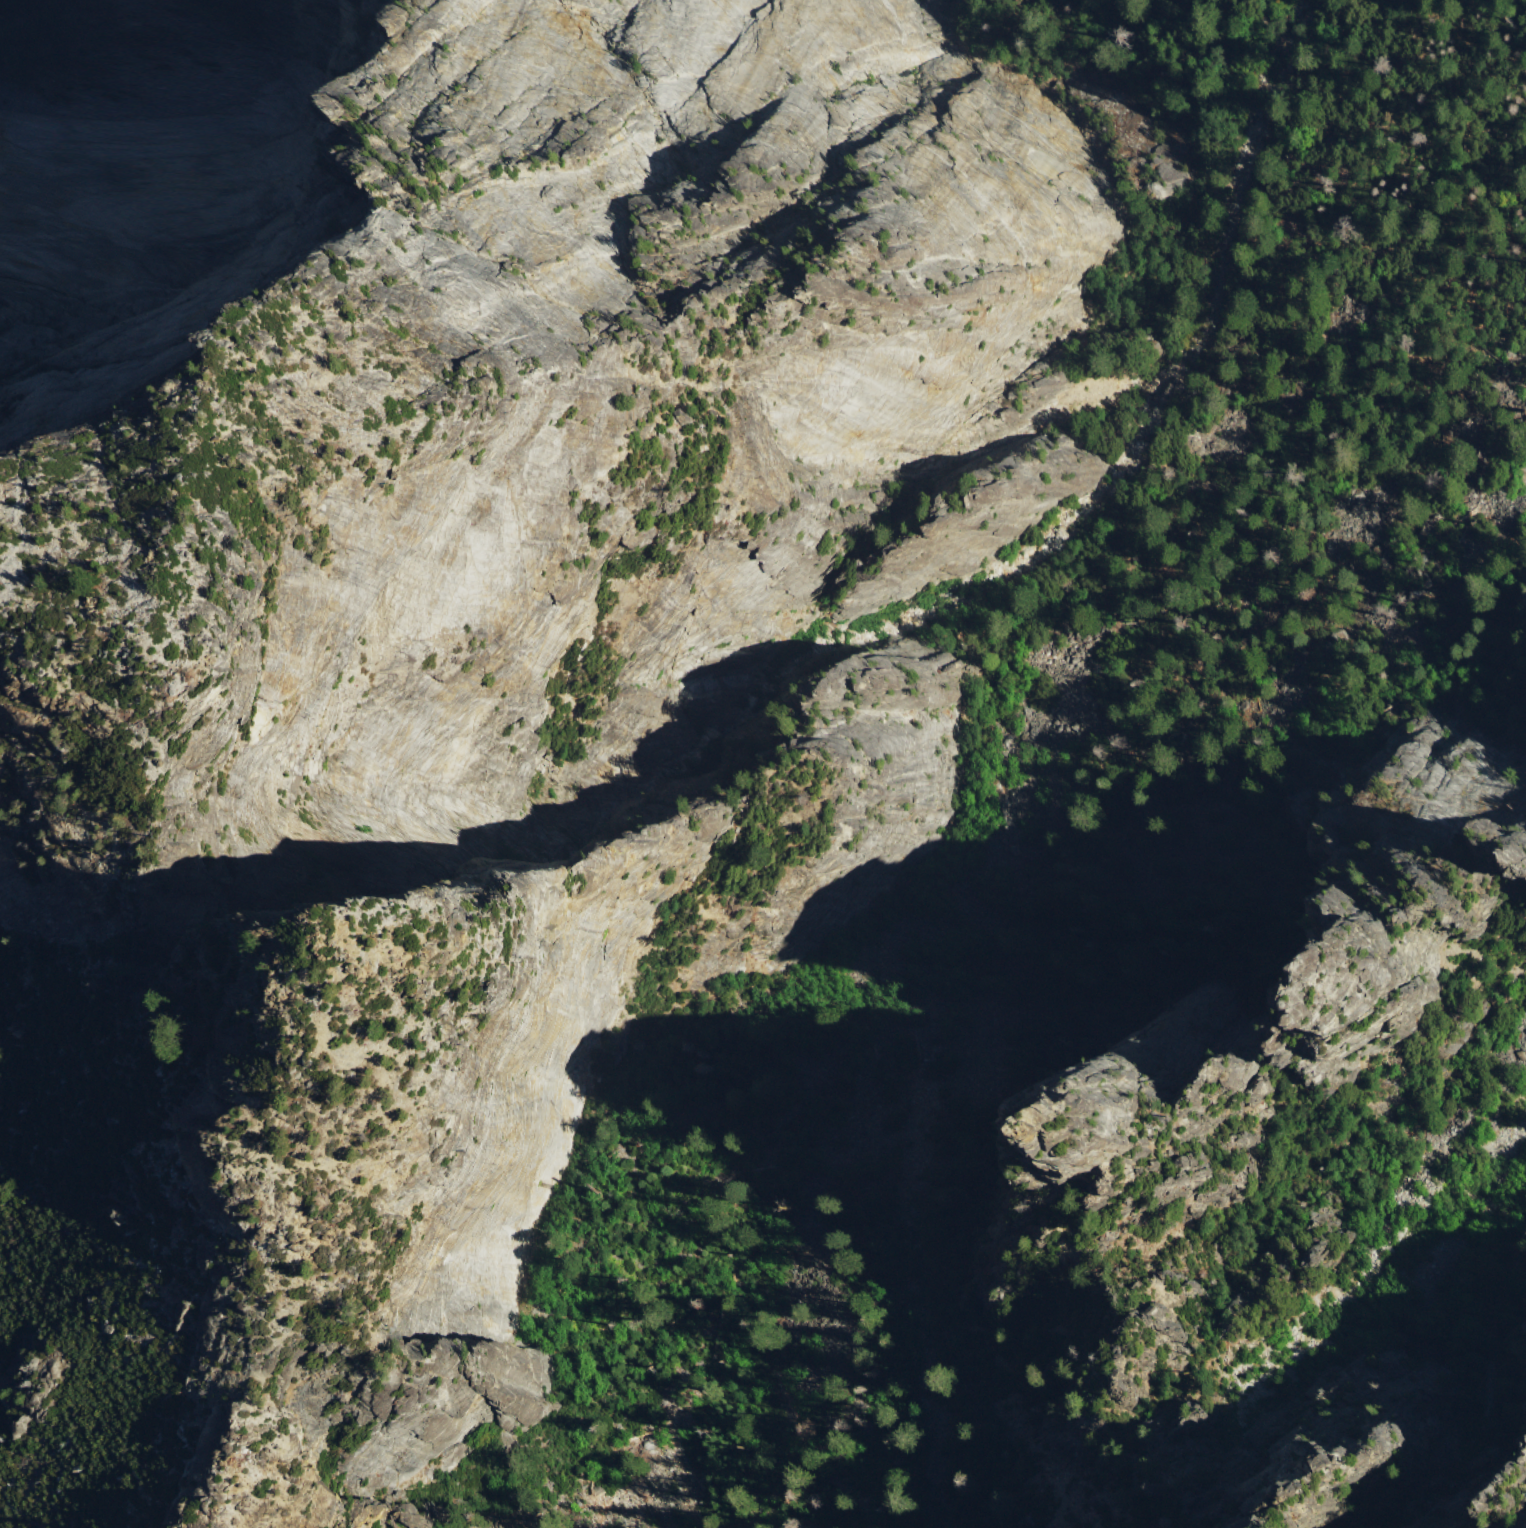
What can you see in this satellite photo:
road: (1207, 134)
road: (1172, 865)

